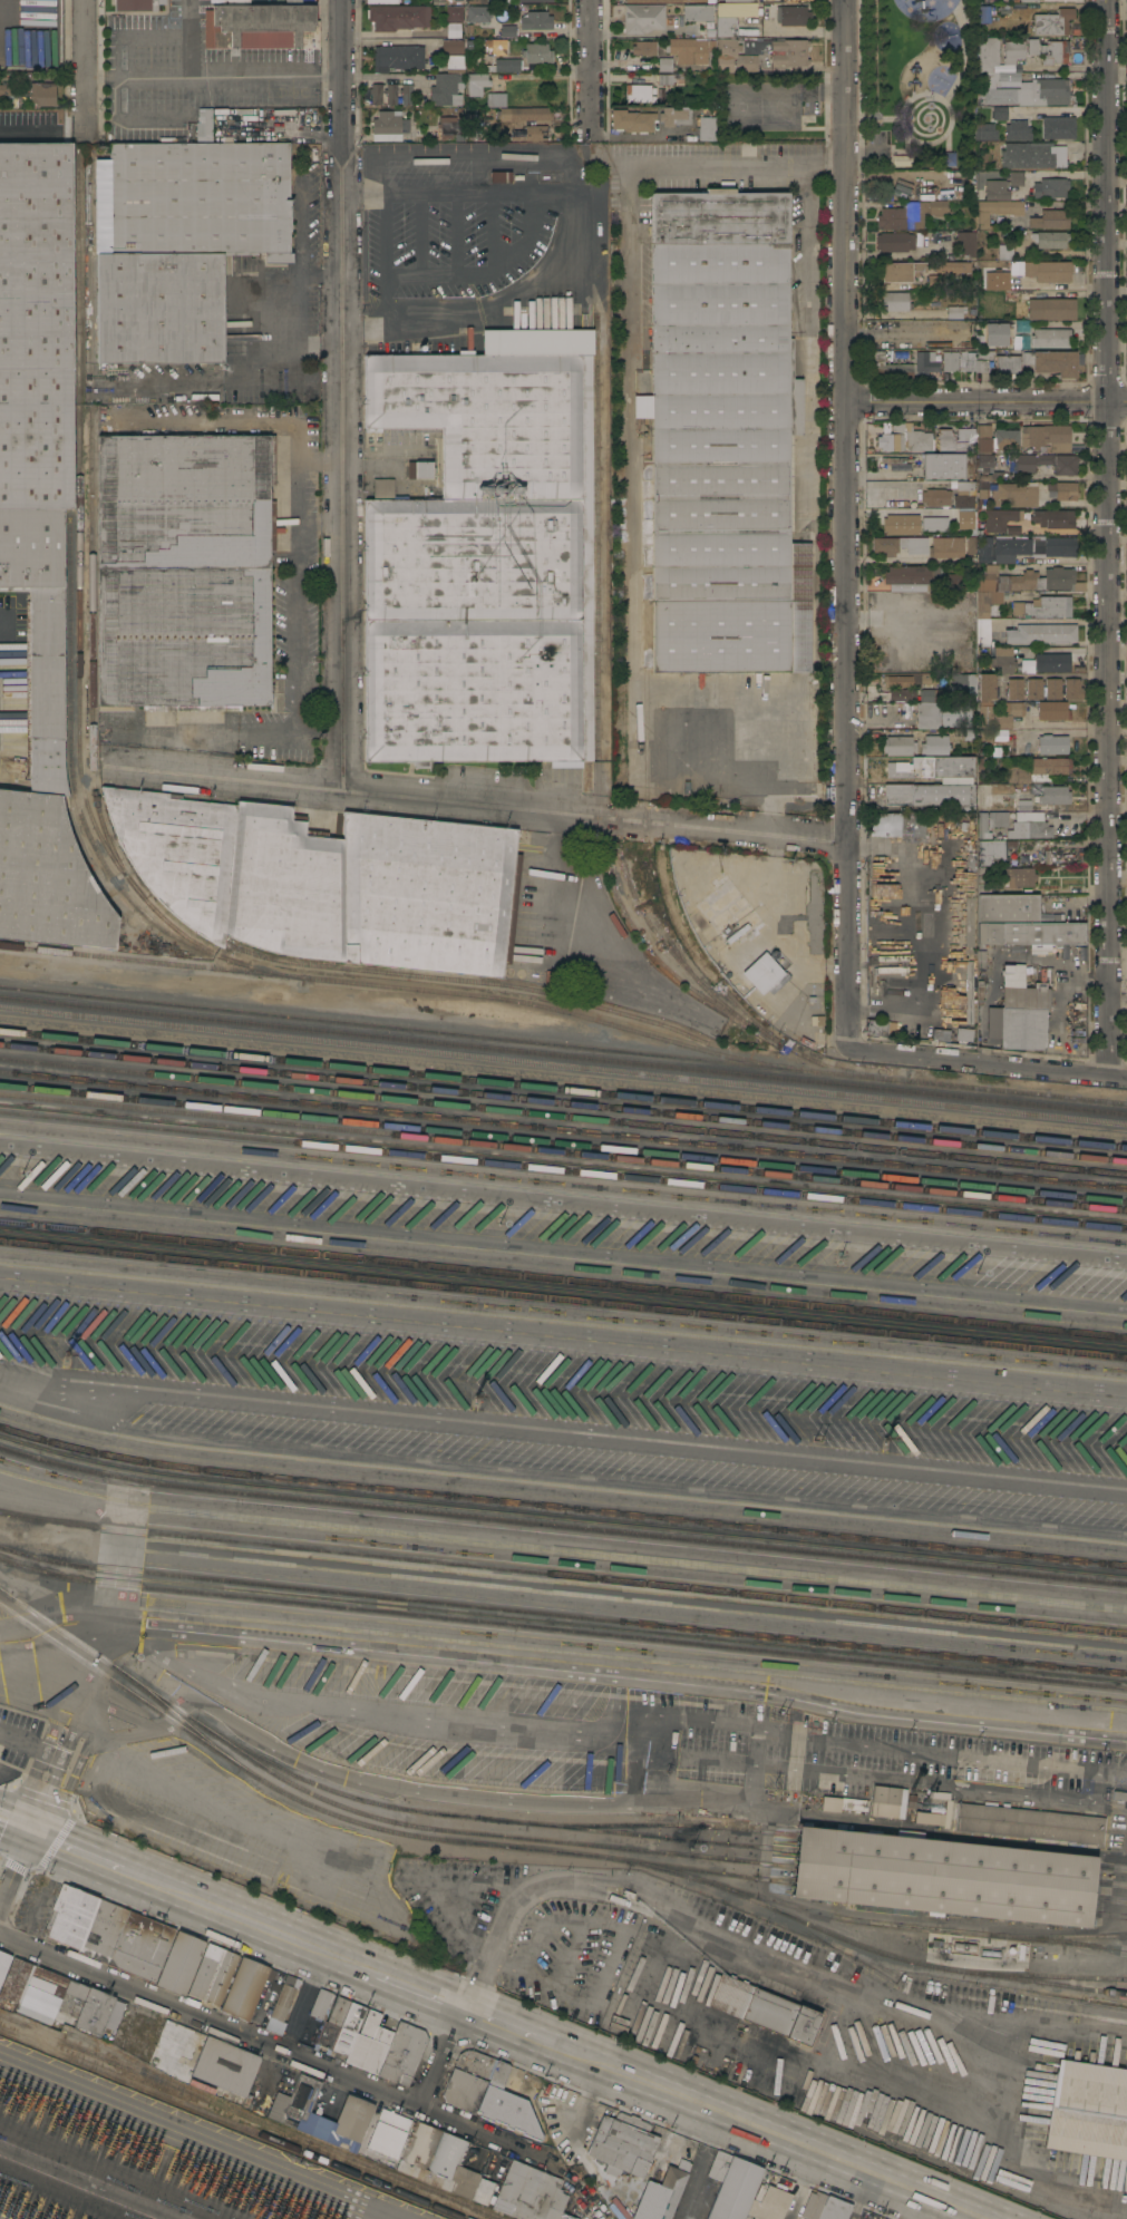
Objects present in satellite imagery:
building: (535, 0)
building: (732, 0)
building: (1019, 0)
building: (382, 1)
building: (453, 1)
building: (653, 1)
building: (701, 1)
building: (293, 2)
building: (476, 2)
building: (135, 4)
building: (1037, 6)
building: (1126, 9)
building: (454, 12)
building: (698, 12)
building: (983, 13)
road: (27, 14)
building: (479, 14)
building: (793, 14)
building: (398, 16)
building: (643, 17)
building: (536, 20)
building: (1052, 21)
building: (260, 22)
building: (726, 27)
building: (506, 30)
building: (691, 30)
building: (451, 31)
road: (129, 32)
building: (708, 33)
road: (187, 38)
road: (394, 42)
building: (453, 46)
building: (495, 46)
building: (1032, 46)
building: (644, 47)
building: (690, 49)
building: (1013, 50)
building: (1055, 50)
building: (790, 51)
building: (536, 52)
building: (736, 55)
building: (399, 56)
building: (506, 64)
building: (664, 65)
road: (85, 69)
road: (589, 69)
road: (213, 75)
road: (386, 78)
building: (664, 79)
building: (448, 81)
building: (1014, 81)
building: (476, 84)
building: (42, 93)
building: (376, 93)
building: (391, 93)
building: (406, 93)
building: (640, 93)
building: (9, 94)
building: (496, 99)
building: (524, 113)
building: (1000, 113)
building: (674, 115)
road: (128, 119)
building: (632, 119)
building: (207, 124)
road: (75, 125)
road: (31, 126)
building: (389, 126)
building: (449, 127)
building: (1058, 127)
building: (707, 128)
building: (1017, 129)
building: (984, 130)
building: (532, 133)
building: (475, 136)
building: (1032, 155)
building: (949, 158)
building: (901, 159)
building: (501, 176)
building: (1016, 177)
building: (1050, 187)
building: (995, 189)
road: (1107, 201)
road: (846, 202)
building: (997, 210)
building: (910, 214)
building: (1050, 218)
road: (579, 226)
building: (1050, 239)
building: (183, 241)
building: (894, 241)
building: (964, 242)
road: (383, 260)
building: (952, 266)
building: (999, 266)
building: (901, 270)
building: (1047, 270)
building: (935, 281)
building: (893, 301)
building: (1050, 308)
building: (954, 311)
road: (293, 312)
road: (808, 325)
building: (997, 333)
building: (1051, 339)
building: (966, 360)
building: (982, 360)
building: (935, 361)
building: (1052, 361)
building: (1008, 363)
road: (626, 368)
building: (885, 368)
road: (343, 395)
road: (987, 402)
road: (244, 418)
building: (1046, 437)
building: (723, 438)
building: (905, 438)
building: (978, 439)
building: (1046, 463)
building: (942, 466)
building: (419, 469)
road: (1057, 476)
building: (1001, 485)
building: (964, 486)
building: (1062, 489)
building: (935, 496)
building: (963, 500)
building: (1053, 517)
building: (1000, 518)
building: (965, 520)
road: (320, 523)
building: (932, 523)
building: (901, 525)
railway: (94, 531)
building: (1012, 531)
building: (39, 541)
building: (900, 545)
building: (946, 547)
building: (1022, 547)
building: (484, 556)
road: (909, 558)
road: (1067, 559)
building: (184, 570)
building: (912, 577)
building: (955, 581)
railway: (81, 586)
building: (982, 603)
building: (1043, 606)
railway: (648, 610)
road: (6, 621)
building: (1042, 633)
road: (1062, 650)
building: (1002, 659)
building: (1053, 662)
road: (1047, 675)
building: (909, 679)
road: (293, 680)
building: (963, 685)
building: (985, 687)
building: (1052, 687)
building: (1014, 688)
building: (1033, 688)
building: (1072, 688)
building: (903, 694)
building: (934, 694)
building: (1052, 709)
building: (942, 713)
building: (998, 713)
road: (847, 724)
road: (1109, 738)
building: (898, 742)
building: (934, 743)
building: (1052, 743)
building: (943, 766)
building: (897, 769)
building: (1039, 769)
railway: (601, 770)
road: (736, 781)
building: (929, 794)
building: (1055, 795)
building: (984, 798)
building: (1021, 800)
railway: (79, 804)
road: (477, 804)
building: (998, 818)
building: (901, 825)
building: (983, 825)
building: (1030, 826)
building: (993, 850)
building: (236, 869)
building: (1020, 876)
building: (428, 893)
building: (1008, 907)
building: (969, 922)
railway: (651, 923)
building: (1031, 933)
building: (760, 972)
railway: (469, 980)
railway: (398, 986)
building: (1022, 989)
road: (1118, 991)
building: (968, 992)
railway: (737, 1000)
building: (876, 1026)
building: (1017, 1026)
building: (964, 1033)
building: (940, 1034)
railway: (563, 1043)
railway: (563, 1055)
road: (989, 1063)
railway: (563, 1067)
railway: (563, 1089)
railway: (563, 1102)
railway: (563, 1115)
railway: (563, 1128)
railway: (563, 1142)
railway: (563, 1151)
railway: (563, 1169)
road: (563, 1200)
railway: (563, 1279)
railway: (563, 1297)
railway: (561, 1506)
railway: (561, 1525)
road: (120, 1561)
railway: (563, 1575)
railway: (562, 1615)
railway: (60, 1627)
railway: (562, 1628)
road: (78, 1661)
road: (619, 1676)
road: (72, 1702)
road: (118, 1711)
road: (392, 1716)
railway: (183, 1717)
road: (90, 1719)
road: (21, 1743)
road: (45, 1746)
road: (62, 1753)
road: (864, 1754)
road: (721, 1760)
road: (659, 1774)
road: (365, 1781)
road: (830, 1784)
road: (1097, 1784)
building: (886, 1794)
building: (1119, 1794)
building: (854, 1803)
road: (33, 1809)
railway: (486, 1818)
road: (252, 1821)
road: (13, 1822)
building: (1028, 1823)
railway: (366, 1824)
railway: (663, 1824)
traffic signals: (28, 1829)
railway: (437, 1829)
railway: (1111, 1867)
road: (13, 1868)
road: (134, 1872)
building: (944, 1876)
railway: (1111, 1882)
railway: (1110, 1898)
railway: (1109, 1914)
railway: (863, 1920)
building: (85, 1921)
road: (719, 1935)
railway: (1058, 1935)
building: (140, 1945)
railway: (1099, 1947)
railway: (910, 1958)
road: (351, 1962)
building: (3, 1963)
building: (181, 1963)
building: (213, 1974)
railway: (1045, 1976)
building: (14, 1978)
building: (244, 1987)
building: (281, 1992)
road: (472, 1994)
building: (74, 1998)
building: (320, 2003)
building: (764, 2008)
building: (331, 2024)
building: (828, 2026)
building: (348, 2028)
building: (369, 2043)
road: (282, 2051)
building: (402, 2053)
road: (440, 2057)
building: (475, 2062)
building: (225, 2065)
road: (668, 2092)
building: (302, 2098)
road: (992, 2098)
building: (492, 2099)
building: (1088, 2110)
building: (352, 2118)
railway: (244, 2119)
building: (388, 2132)
building: (622, 2143)
building: (441, 2163)
building: (731, 2184)
building: (662, 2192)
building: (531, 2193)
road: (925, 2198)
building: (769, 2203)
building: (812, 2203)
building: (834, 2209)
road: (923, 2209)
road: (12, 2213)
railway: (485, 2218)

